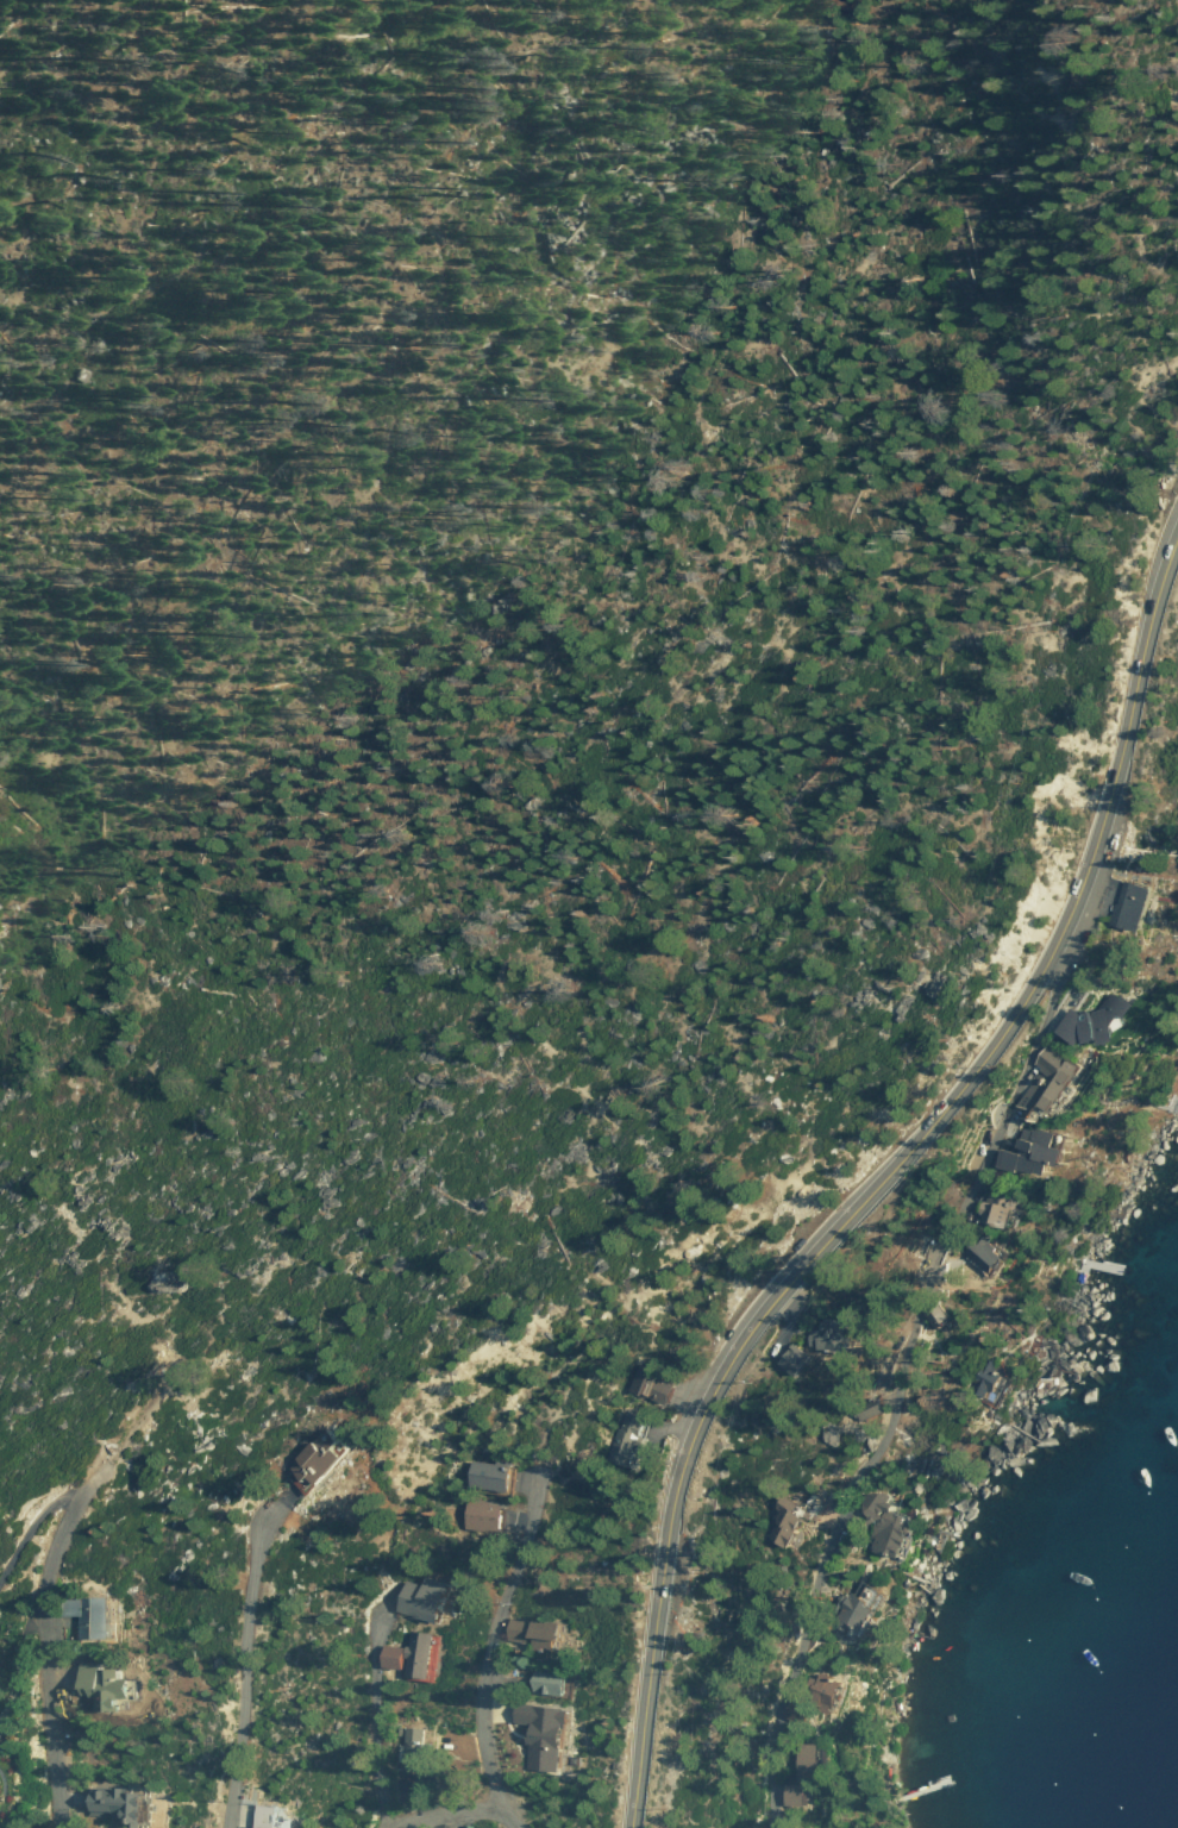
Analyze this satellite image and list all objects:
pier: (1174, 1093)
road: (884, 1177)
pier: (1101, 1264)
road: (901, 1377)
building: (648, 1379)
road: (127, 1432)
building: (627, 1436)
building: (318, 1455)
building: (491, 1477)
building: (0, 1508)
building: (485, 1516)
road: (29, 1527)
building: (427, 1595)
building: (92, 1605)
building: (538, 1632)
building: (414, 1653)
road: (488, 1655)
road: (43, 1660)
road: (244, 1673)
building: (105, 1678)
building: (551, 1680)
road: (376, 1715)
building: (543, 1733)
building: (414, 1751)
pier: (921, 1789)
building: (118, 1798)
building: (277, 1814)
road: (444, 1814)
road: (455, 1820)

